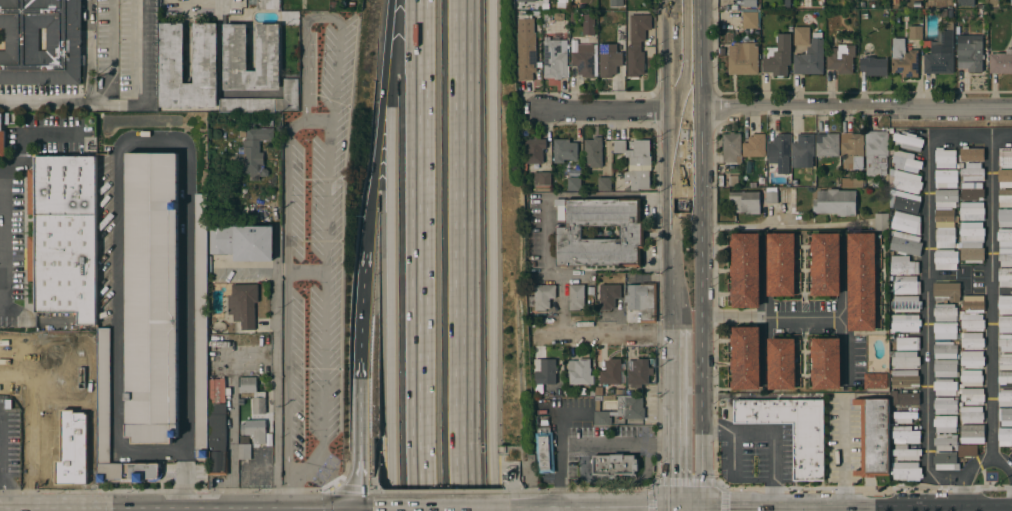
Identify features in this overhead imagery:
building: (526, 1)
building: (896, 2)
building: (617, 3)
building: (749, 3)
building: (966, 3)
building: (268, 4)
building: (604, 4)
building: (786, 4)
building: (862, 5)
building: (871, 5)
building: (916, 5)
road: (218, 6)
building: (734, 7)
building: (951, 14)
building: (864, 17)
building: (750, 20)
building: (589, 25)
road: (387, 26)
road: (674, 29)
building: (915, 33)
building: (801, 36)
building: (40, 42)
building: (637, 45)
building: (235, 47)
building: (526, 48)
building: (608, 50)
building: (940, 51)
building: (969, 52)
building: (171, 53)
road: (109, 55)
road: (700, 56)
building: (778, 56)
building: (841, 56)
building: (555, 57)
building: (810, 57)
building: (583, 58)
building: (743, 58)
building: (903, 59)
road: (304, 61)
building: (1001, 62)
building: (873, 66)
road: (142, 80)
road: (675, 85)
road: (88, 96)
building: (250, 105)
road: (775, 111)
road: (971, 135)
building: (2, 139)
road: (23, 139)
building: (908, 141)
building: (754, 146)
building: (828, 146)
building: (730, 147)
building: (535, 150)
building: (564, 150)
building: (593, 151)
building: (803, 151)
building: (852, 151)
building: (252, 152)
road: (375, 152)
building: (779, 152)
building: (876, 153)
road: (700, 154)
building: (971, 154)
building: (945, 158)
building: (1005, 159)
building: (905, 161)
building: (961, 164)
building: (634, 165)
building: (972, 173)
building: (946, 178)
building: (1004, 178)
building: (543, 181)
building: (761, 181)
building: (564, 182)
building: (852, 182)
building: (906, 182)
building: (573, 183)
building: (794, 183)
building: (819, 183)
building: (604, 184)
building: (768, 190)
building: (971, 191)
building: (763, 198)
building: (771, 198)
building: (946, 198)
building: (1005, 198)
building: (746, 201)
building: (835, 202)
building: (903, 204)
building: (971, 211)
building: (560, 213)
building: (1005, 217)
building: (944, 218)
building: (881, 221)
building: (906, 223)
road: (673, 224)
road: (784, 226)
building: (971, 232)
building: (568, 233)
building: (64, 236)
road: (325, 236)
building: (1004, 237)
building: (945, 238)
building: (243, 242)
building: (905, 243)
parking lot: (315, 246)
building: (972, 252)
road: (423, 255)
road: (469, 255)
road: (492, 255)
building: (1005, 257)
building: (946, 259)
building: (782, 264)
building: (825, 264)
building: (903, 265)
building: (745, 270)
building: (1005, 277)
road: (392, 281)
building: (862, 282)
building: (906, 285)
building: (946, 291)
road: (289, 296)
building: (540, 296)
building: (609, 296)
building: (152, 297)
building: (576, 297)
road: (990, 298)
road: (118, 299)
road: (186, 299)
building: (642, 300)
building: (243, 304)
building: (906, 304)
building: (973, 304)
building: (1005, 305)
road: (362, 307)
building: (945, 312)
road: (803, 319)
building: (971, 321)
road: (927, 323)
building: (904, 324)
building: (1005, 324)
building: (201, 327)
building: (945, 331)
road: (609, 336)
building: (972, 341)
building: (1005, 342)
building: (907, 343)
road: (701, 349)
building: (945, 350)
building: (745, 358)
building: (905, 359)
building: (972, 359)
building: (1005, 362)
building: (782, 363)
building: (826, 363)
building: (945, 368)
road: (276, 369)
building: (580, 372)
building: (611, 372)
building: (544, 373)
building: (638, 373)
building: (971, 378)
building: (1004, 378)
road: (33, 379)
building: (904, 379)
building: (875, 381)
road: (91, 382)
building: (945, 387)
building: (216, 390)
building: (557, 392)
building: (616, 392)
building: (591, 393)
building: (254, 394)
building: (551, 395)
building: (104, 396)
building: (972, 396)
building: (1005, 398)
building: (902, 399)
building: (596, 405)
building: (945, 405)
building: (630, 407)
building: (971, 414)
building: (1005, 416)
building: (904, 417)
building: (602, 418)
road: (671, 423)
building: (945, 424)
building: (255, 430)
road: (772, 430)
building: (971, 434)
building: (905, 435)
road: (357, 436)
building: (1005, 436)
building: (874, 437)
building: (217, 439)
building: (945, 442)
road: (376, 443)
road: (591, 444)
road: (29, 445)
building: (72, 448)
road: (841, 449)
building: (967, 450)
building: (244, 451)
building: (545, 451)
building: (809, 451)
building: (945, 461)
road: (1, 462)
road: (310, 463)
building: (905, 463)
road: (503, 464)
road: (977, 464)
building: (614, 465)
road: (503, 478)
road: (562, 478)
road: (187, 480)
road: (615, 480)
road: (1, 482)
road: (291, 482)
road: (376, 485)
road: (343, 486)
road: (509, 486)
road: (518, 486)
road: (613, 490)
road: (442, 491)
road: (652, 497)
road: (722, 497)
road: (915, 501)
road: (768, 502)
road: (1004, 502)
traffic signals: (702, 503)
road: (996, 506)
road: (693, 507)
road: (702, 507)

